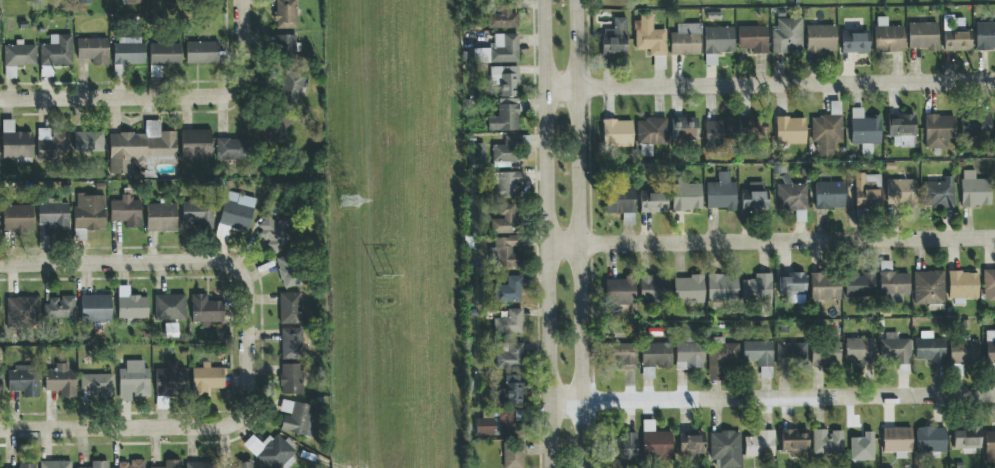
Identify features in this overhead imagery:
building: (133, 1)
building: (83, 2)
road: (244, 5)
building: (286, 14)
building: (503, 17)
building: (649, 36)
building: (787, 36)
building: (923, 36)
building: (985, 36)
building: (888, 37)
building: (615, 38)
building: (753, 39)
building: (821, 39)
building: (686, 40)
building: (958, 40)
building: (855, 42)
building: (717, 43)
building: (287, 46)
building: (504, 48)
building: (93, 50)
building: (57, 51)
building: (202, 53)
building: (127, 54)
building: (164, 57)
building: (18, 58)
building: (505, 80)
building: (292, 87)
road: (769, 87)
road: (158, 97)
building: (504, 119)
building: (976, 125)
building: (275, 127)
building: (684, 128)
building: (790, 129)
building: (901, 129)
building: (753, 130)
building: (865, 130)
building: (939, 131)
building: (719, 132)
building: (826, 132)
building: (617, 133)
building: (651, 134)
building: (16, 142)
building: (88, 142)
building: (196, 143)
building: (52, 145)
building: (139, 147)
building: (231, 149)
building: (507, 149)
building: (506, 184)
building: (974, 190)
building: (868, 192)
building: (721, 193)
building: (901, 193)
building: (939, 194)
building: (686, 195)
building: (829, 195)
building: (754, 197)
building: (791, 197)
building: (652, 202)
building: (620, 203)
power tower: (349, 204)
building: (125, 211)
building: (89, 212)
building: (235, 213)
building: (197, 214)
building: (54, 215)
building: (161, 217)
building: (18, 218)
building: (505, 221)
building: (273, 233)
road: (546, 234)
road: (580, 234)
road: (770, 242)
building: (506, 252)
road: (164, 262)
building: (290, 272)
building: (892, 283)
building: (962, 284)
building: (859, 285)
building: (989, 285)
building: (825, 286)
building: (757, 287)
building: (928, 287)
building: (722, 288)
building: (792, 288)
building: (653, 289)
building: (688, 289)
building: (509, 290)
building: (619, 291)
building: (170, 307)
building: (0, 308)
building: (60, 308)
building: (132, 308)
building: (290, 308)
building: (95, 309)
building: (206, 310)
building: (21, 312)
building: (509, 322)
building: (291, 345)
building: (989, 347)
building: (893, 348)
building: (930, 348)
building: (859, 350)
building: (963, 352)
building: (791, 354)
building: (623, 355)
building: (689, 355)
building: (825, 355)
building: (510, 356)
building: (759, 356)
building: (654, 358)
building: (721, 359)
building: (135, 378)
building: (24, 379)
building: (207, 379)
building: (291, 379)
building: (170, 380)
building: (61, 381)
building: (0, 384)
building: (97, 384)
building: (511, 391)
road: (771, 399)
building: (298, 419)
building: (508, 422)
building: (483, 427)
road: (155, 429)
building: (966, 439)
building: (931, 440)
building: (794, 441)
building: (859, 441)
building: (897, 441)
building: (691, 442)
building: (827, 442)
building: (760, 444)
building: (625, 446)
building: (990, 447)
building: (725, 448)
building: (271, 450)
building: (513, 455)
building: (55, 464)
building: (99, 464)
building: (132, 464)
building: (171, 464)
building: (26, 465)
building: (198, 465)
building: (241, 465)

